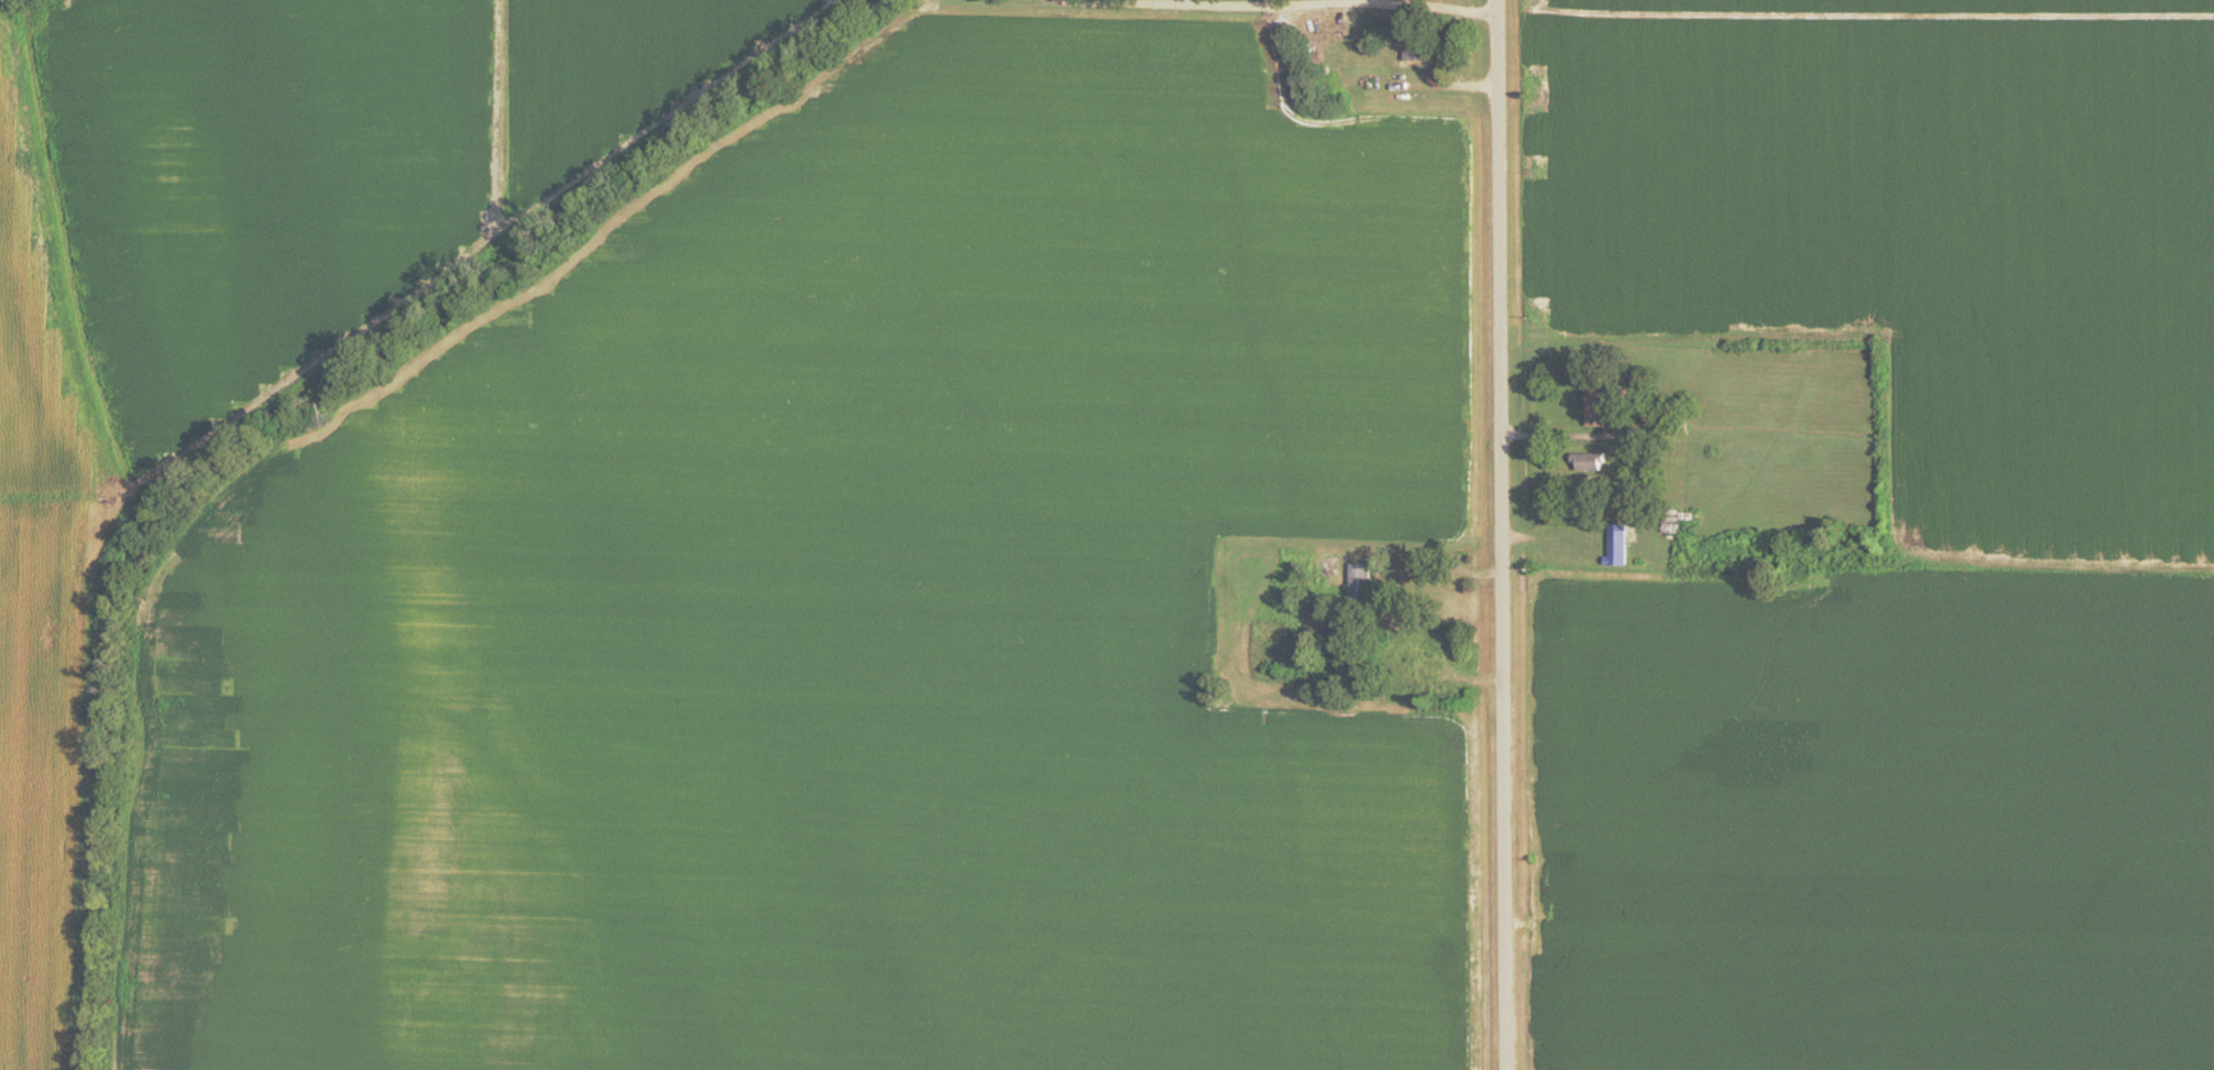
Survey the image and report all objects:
building: (1412, 54)
building: (1599, 407)
building: (1586, 466)
road: (1501, 534)
building: (1614, 547)
building: (1312, 579)
building: (1356, 590)

